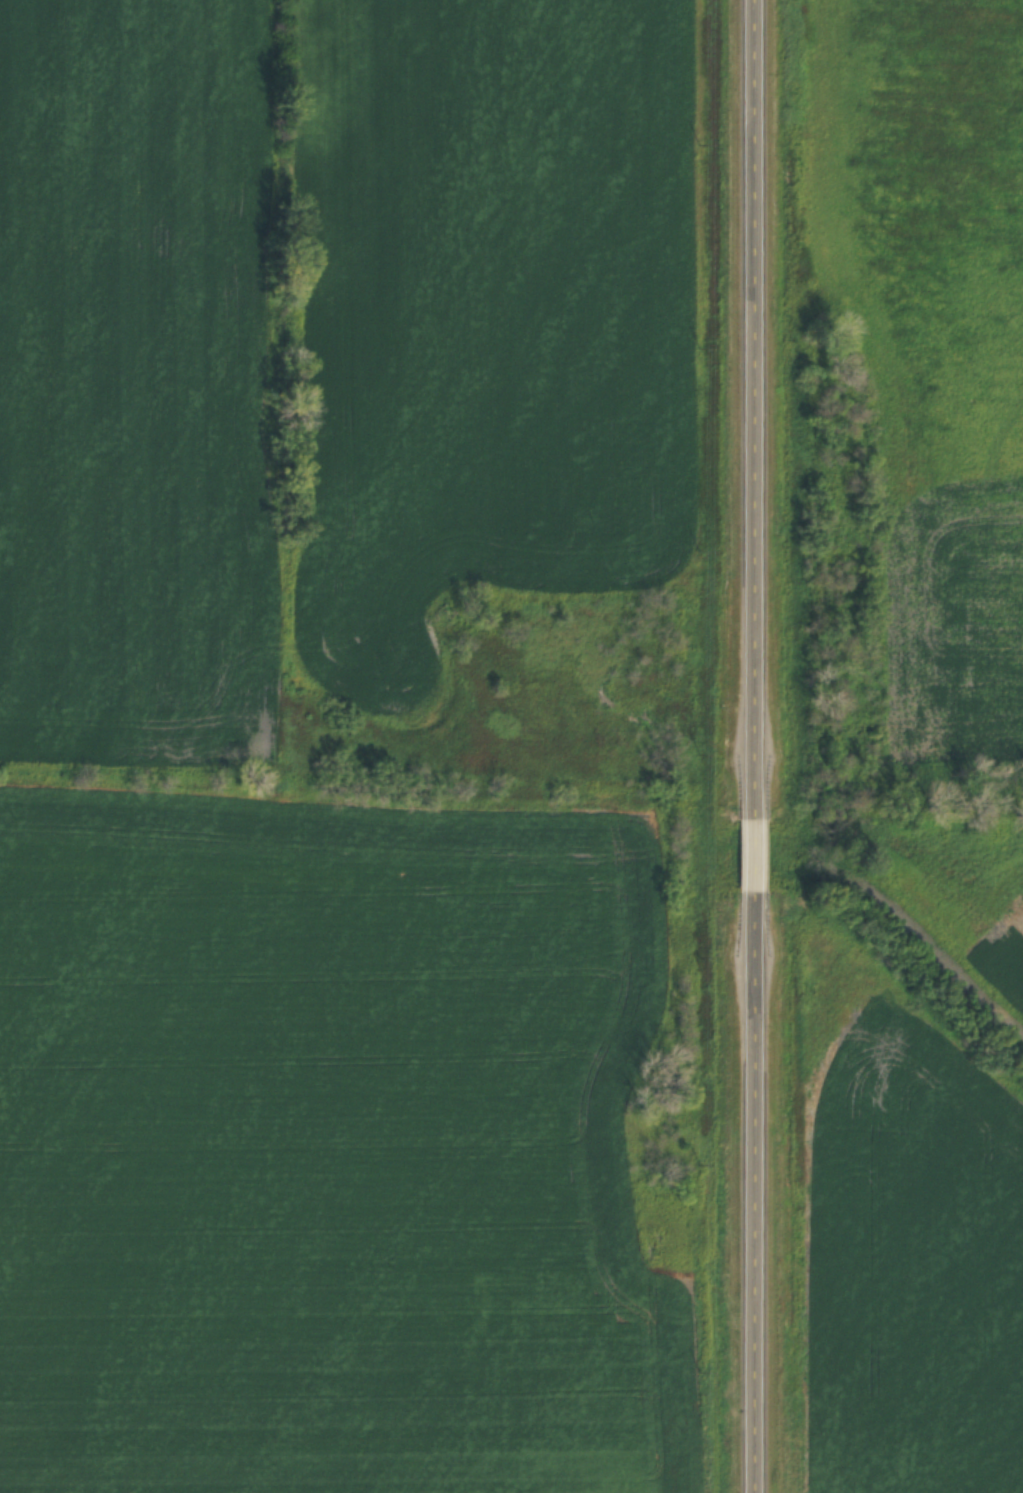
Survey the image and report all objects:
road: (752, 746)

